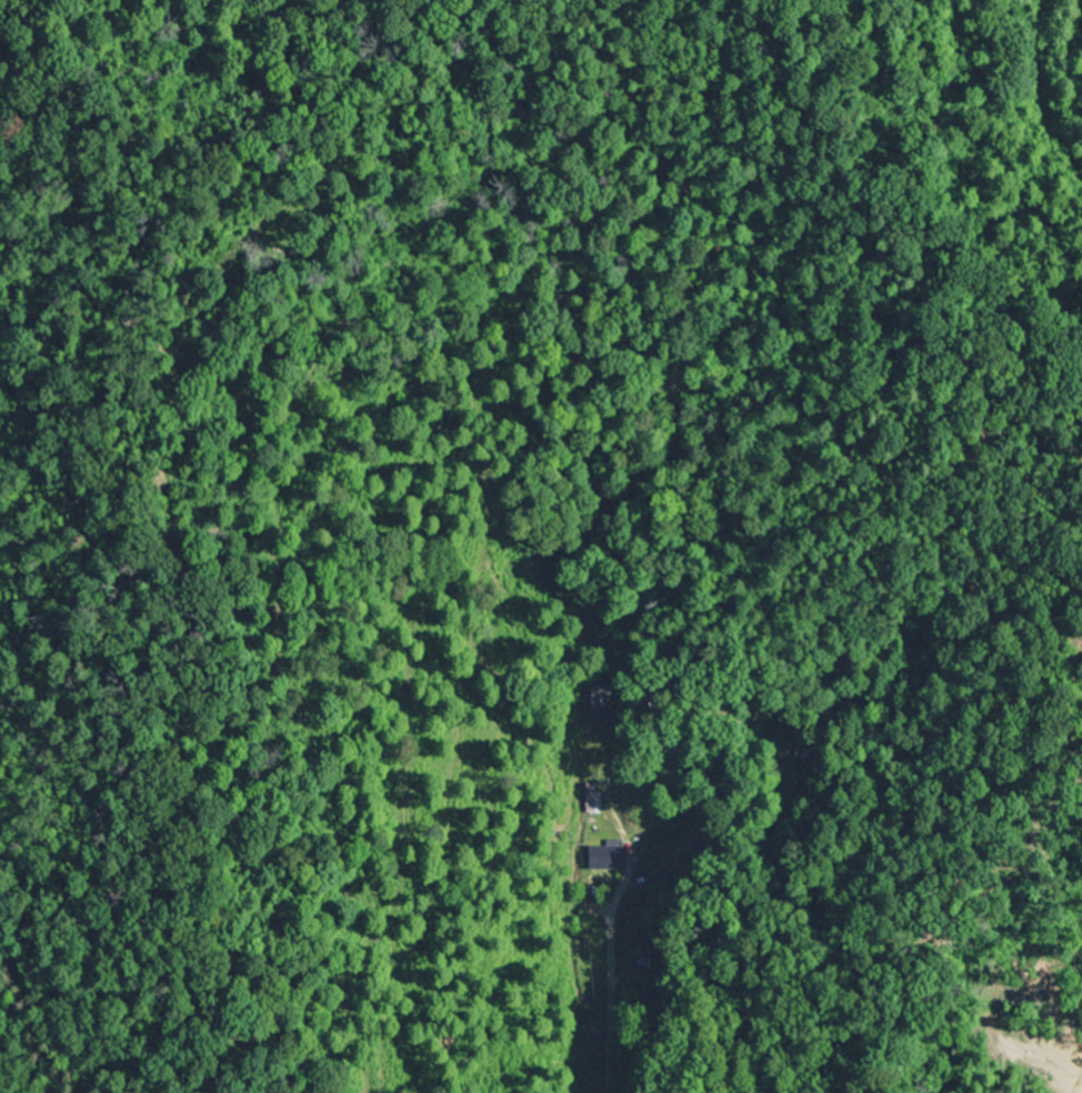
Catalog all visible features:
building: (612, 858)
road: (609, 995)

